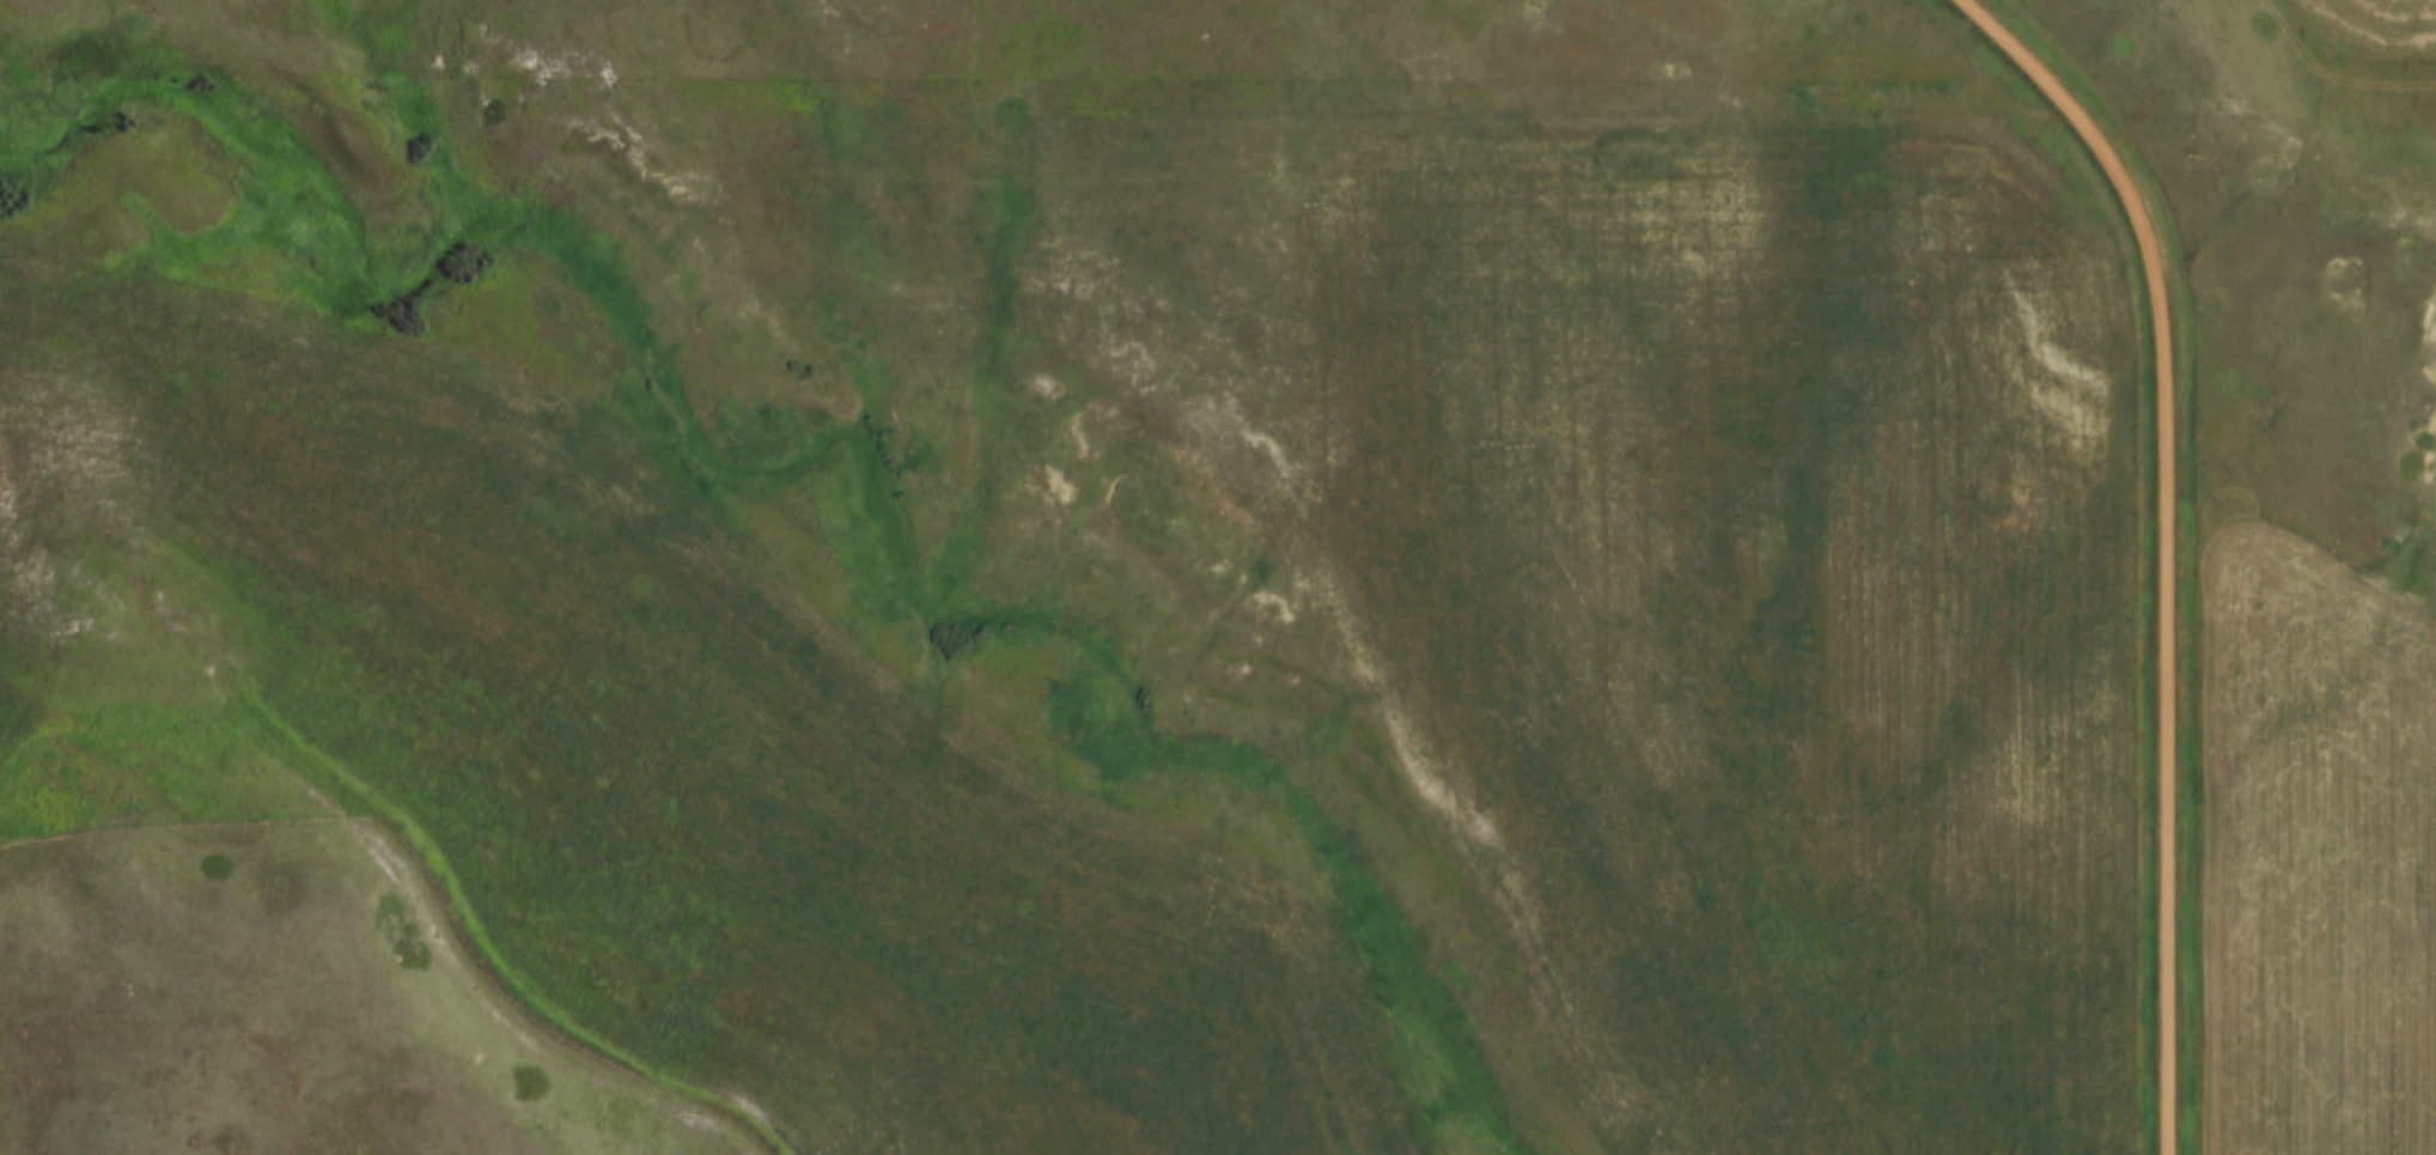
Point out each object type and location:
road: (1972, 14)
road: (2161, 563)

